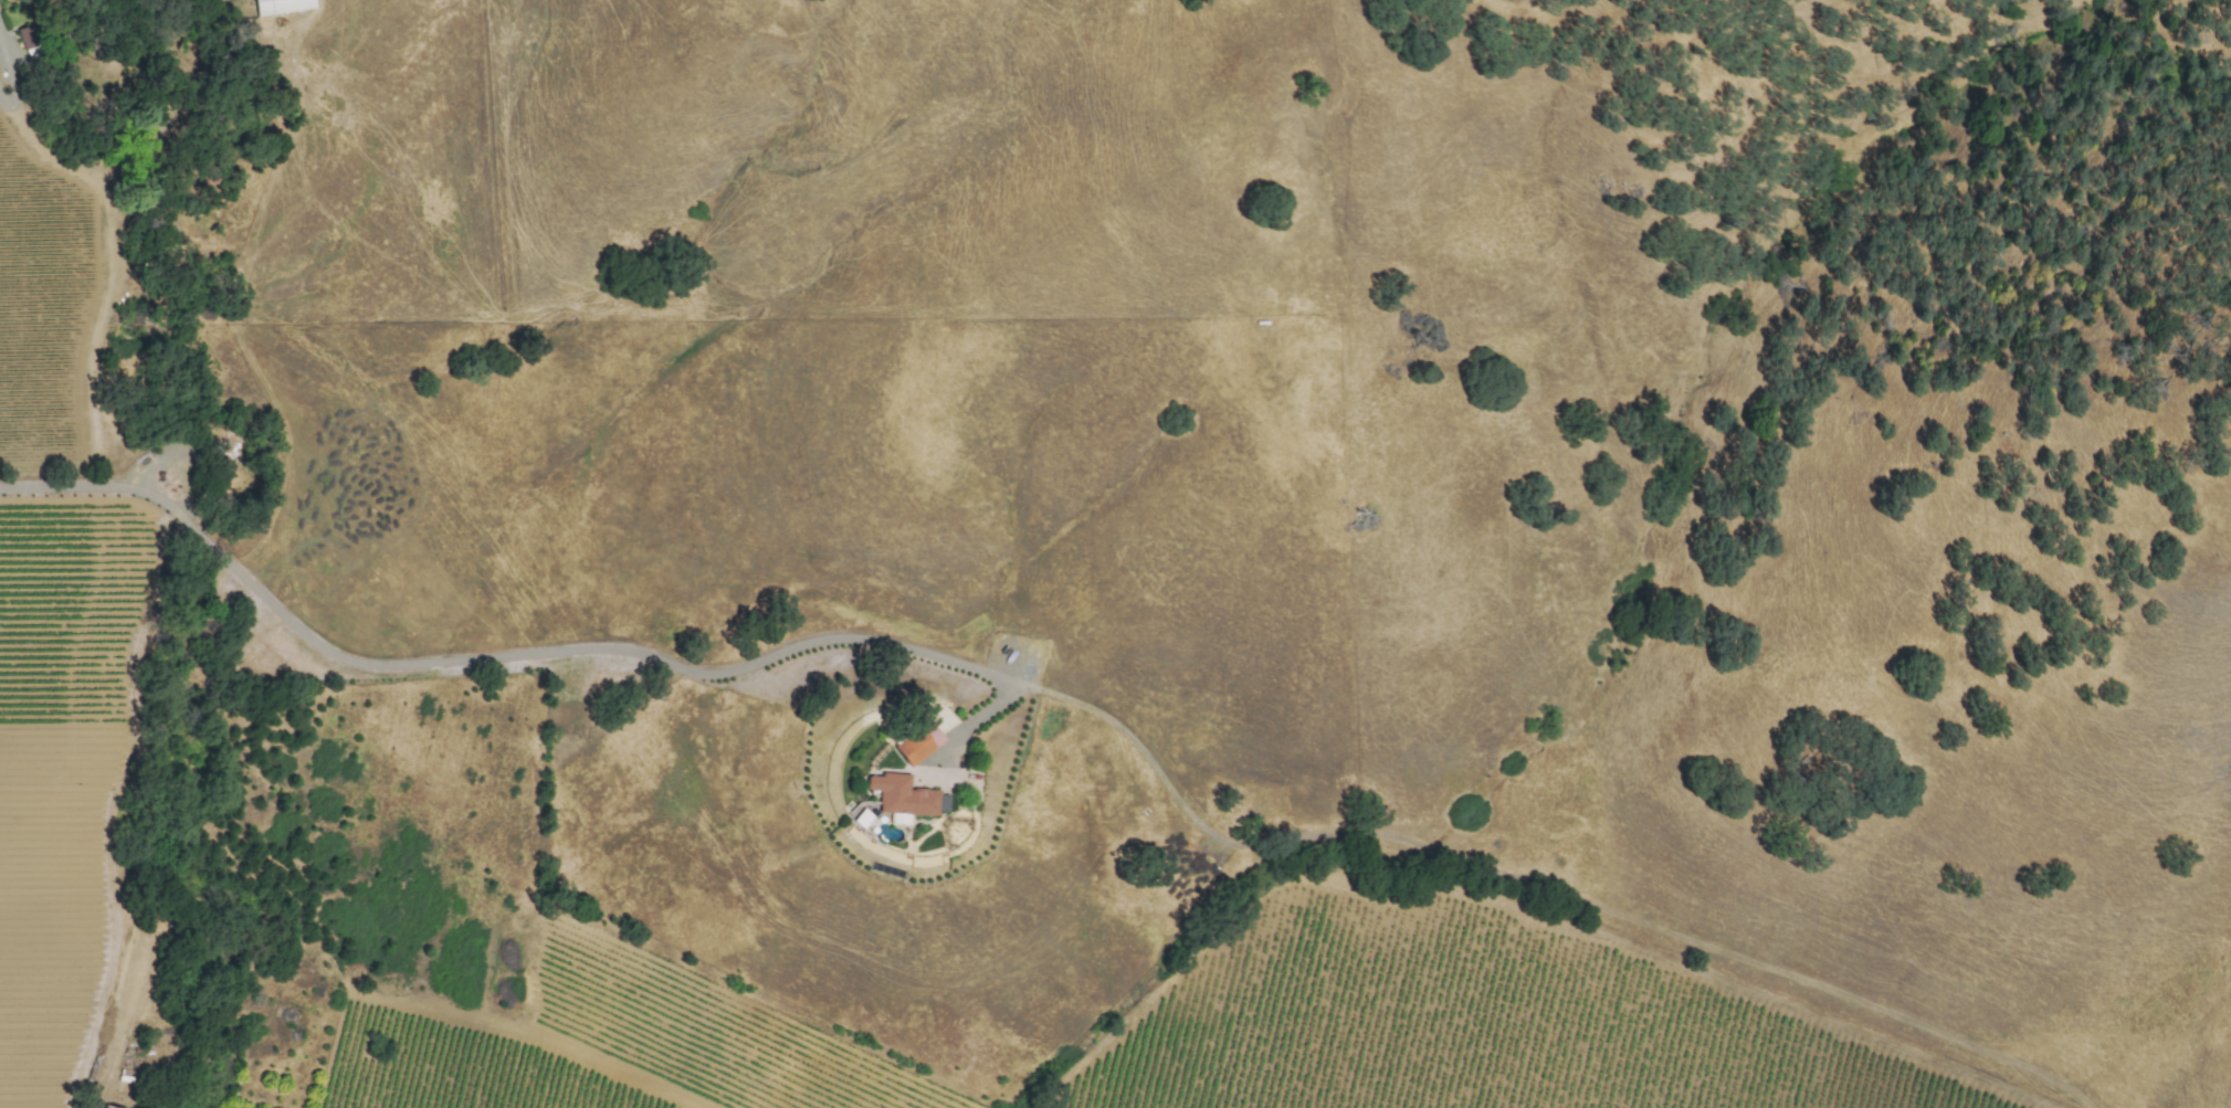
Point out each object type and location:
road: (13, 52)
road: (12, 107)
road: (485, 658)
road: (962, 727)
building: (918, 742)
building: (905, 794)

